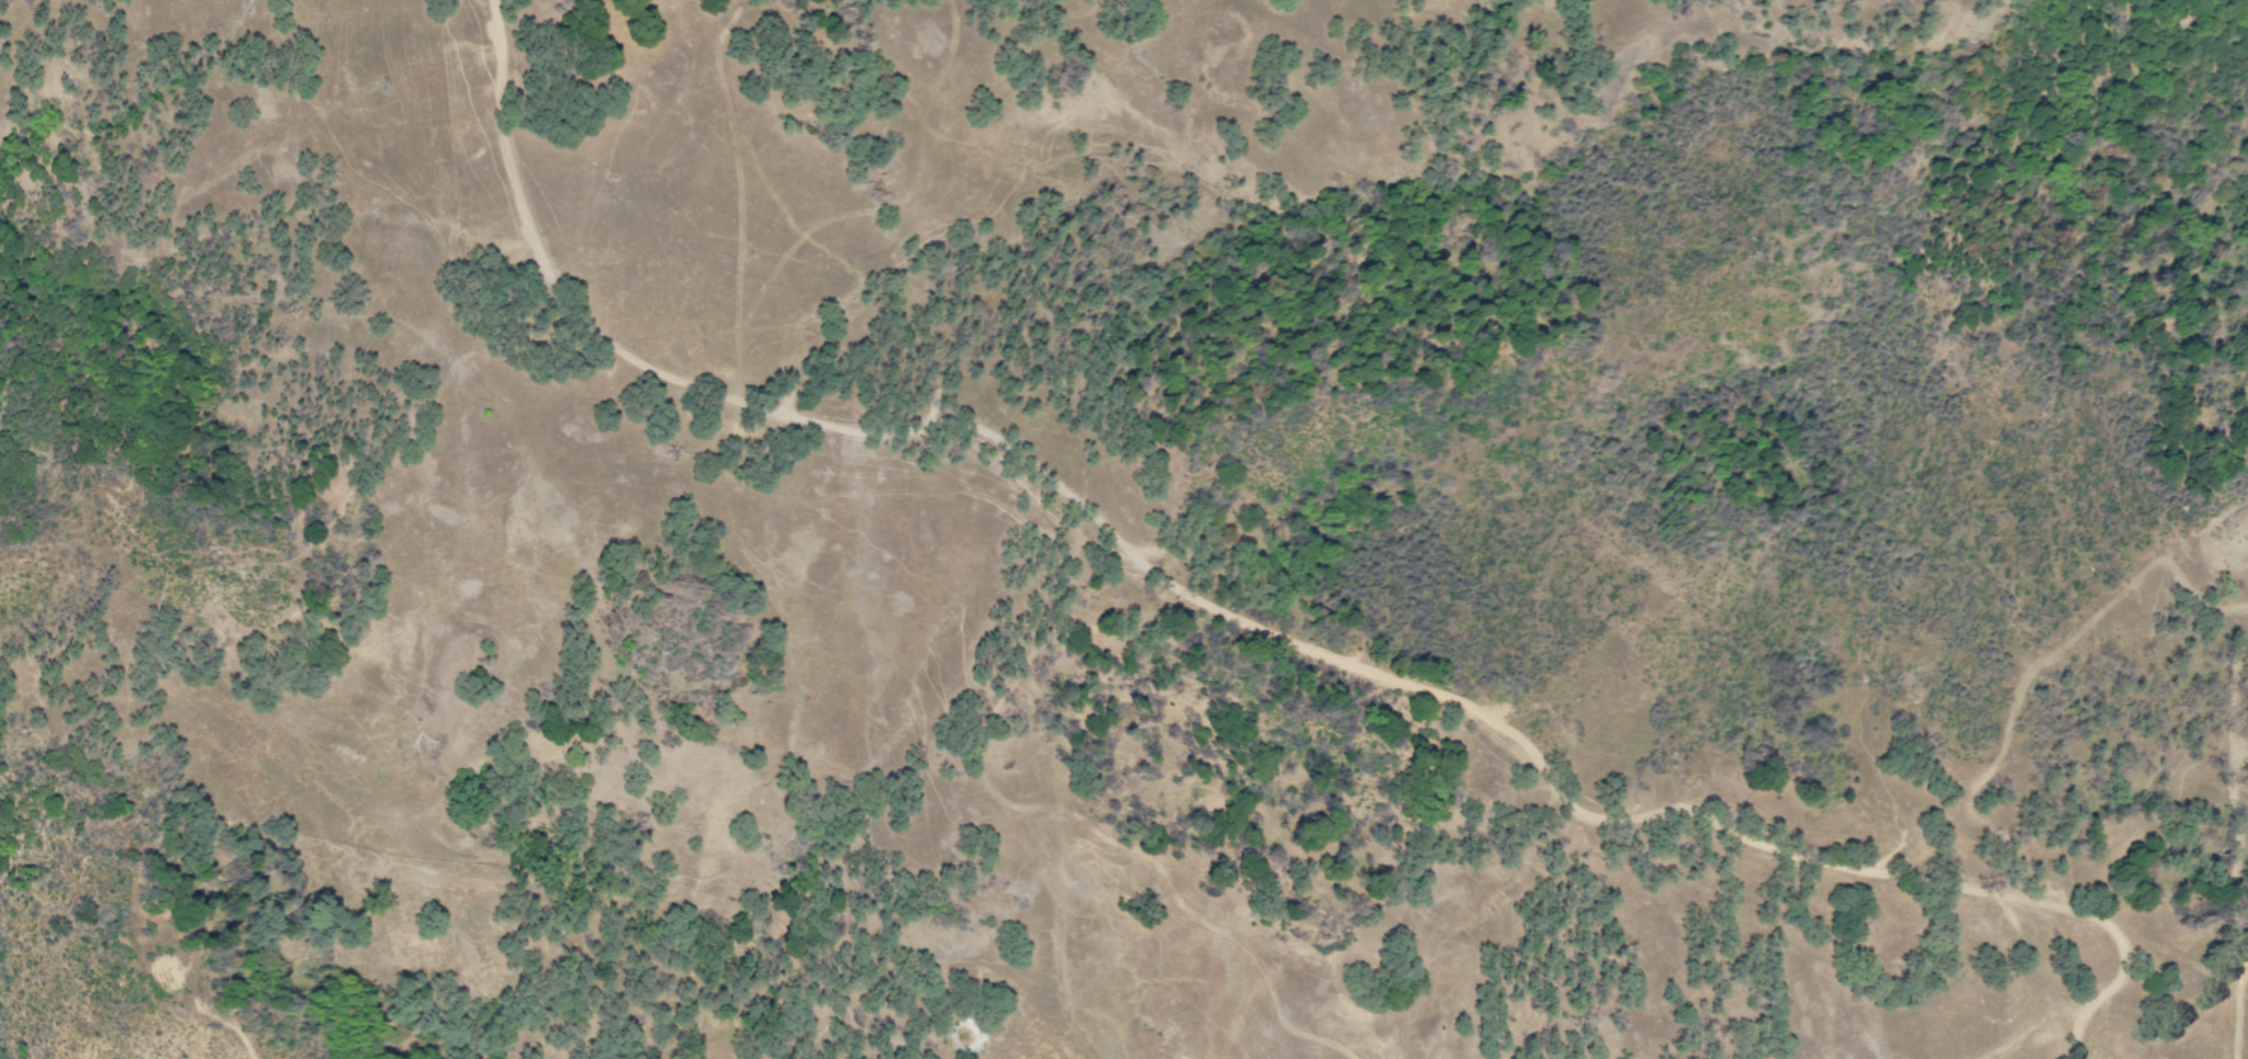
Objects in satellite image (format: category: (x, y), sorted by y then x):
road: (518, 156)
road: (311, 539)
road: (1396, 689)

